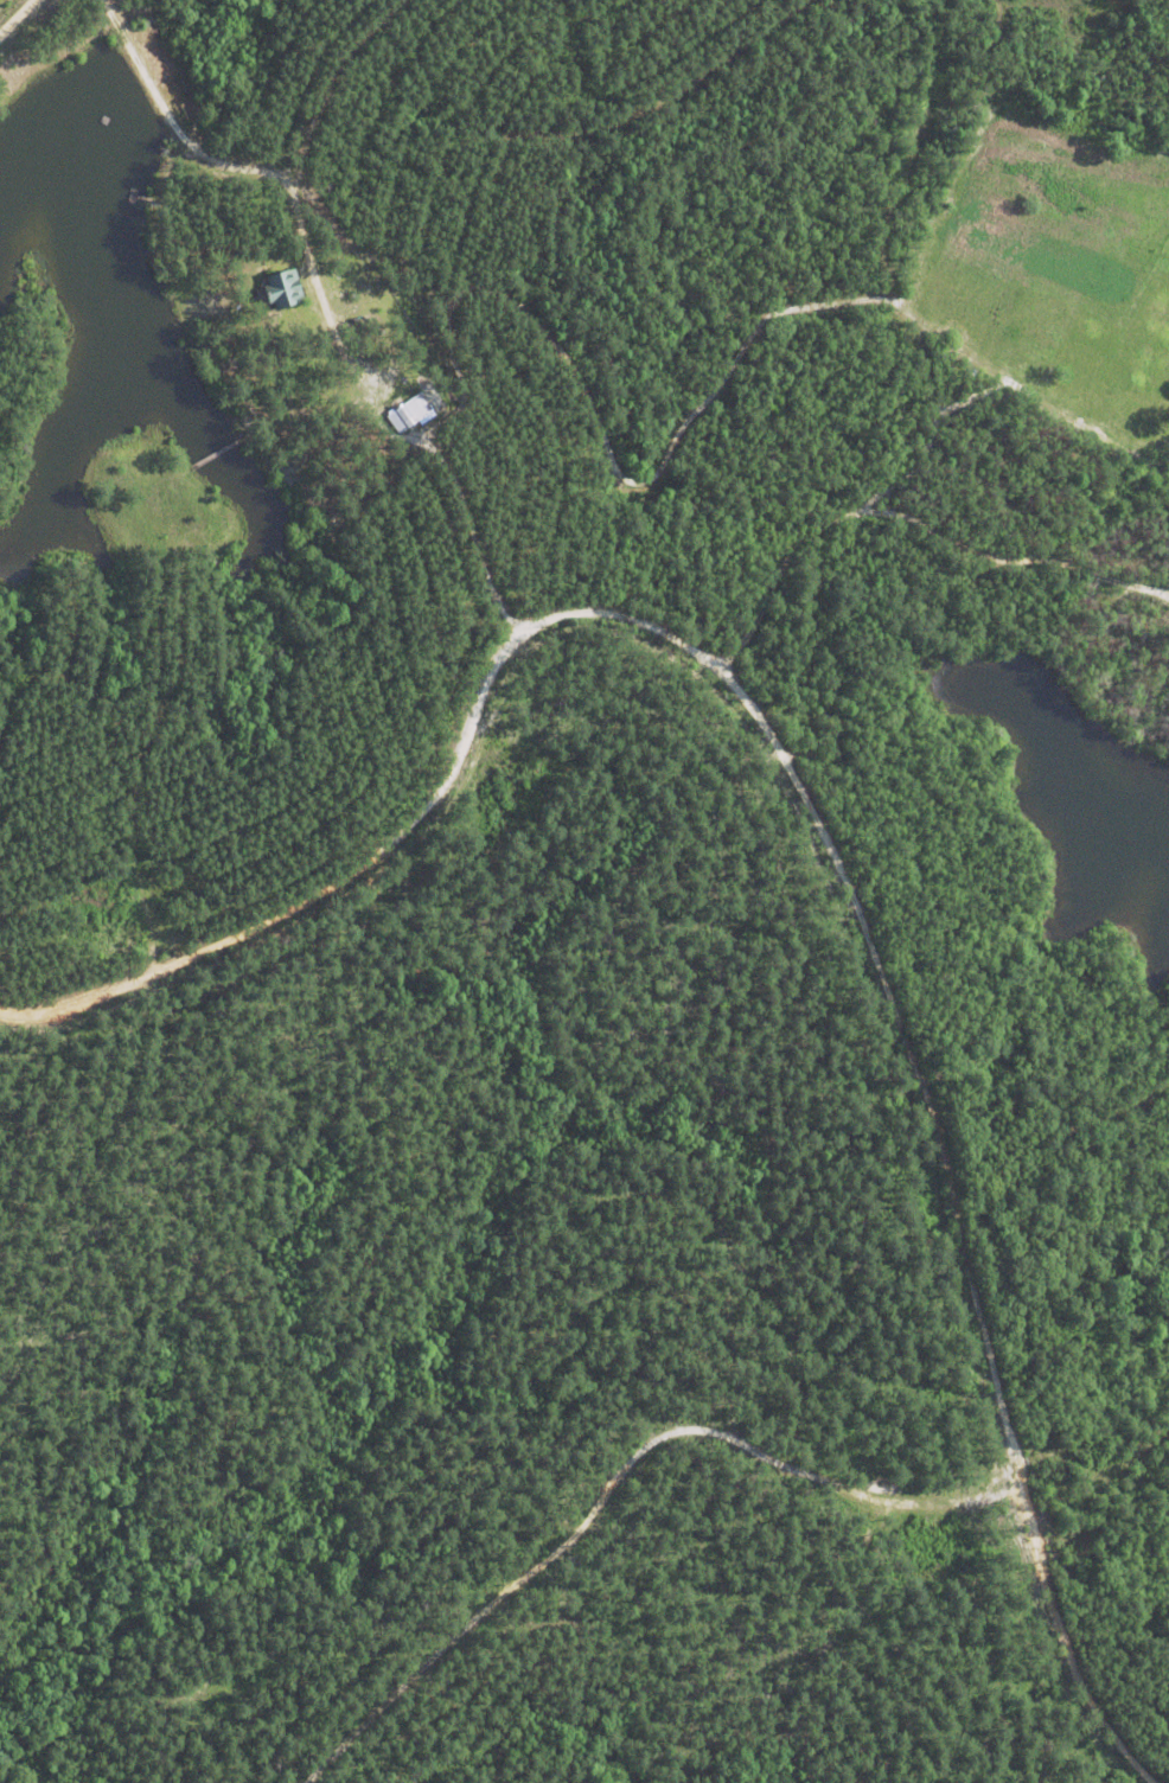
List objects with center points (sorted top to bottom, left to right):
road: (19, 20)
building: (283, 287)

